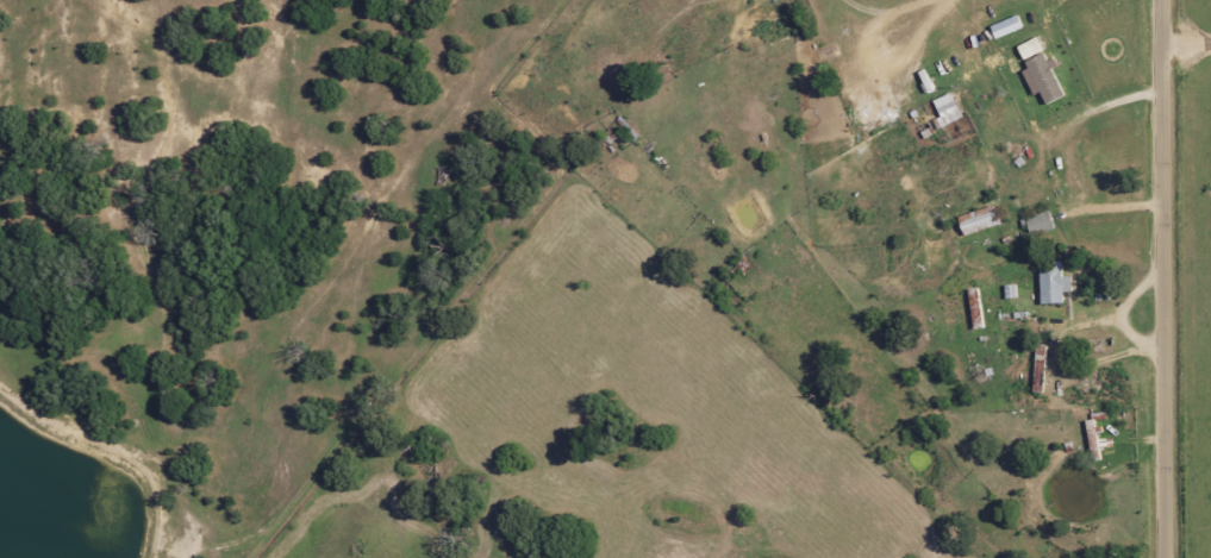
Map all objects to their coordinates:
building: (1040, 73)
building: (947, 112)
road: (1057, 164)
building: (979, 221)
building: (1038, 225)
road: (1161, 278)
building: (1051, 284)
building: (1010, 293)
building: (1040, 370)

